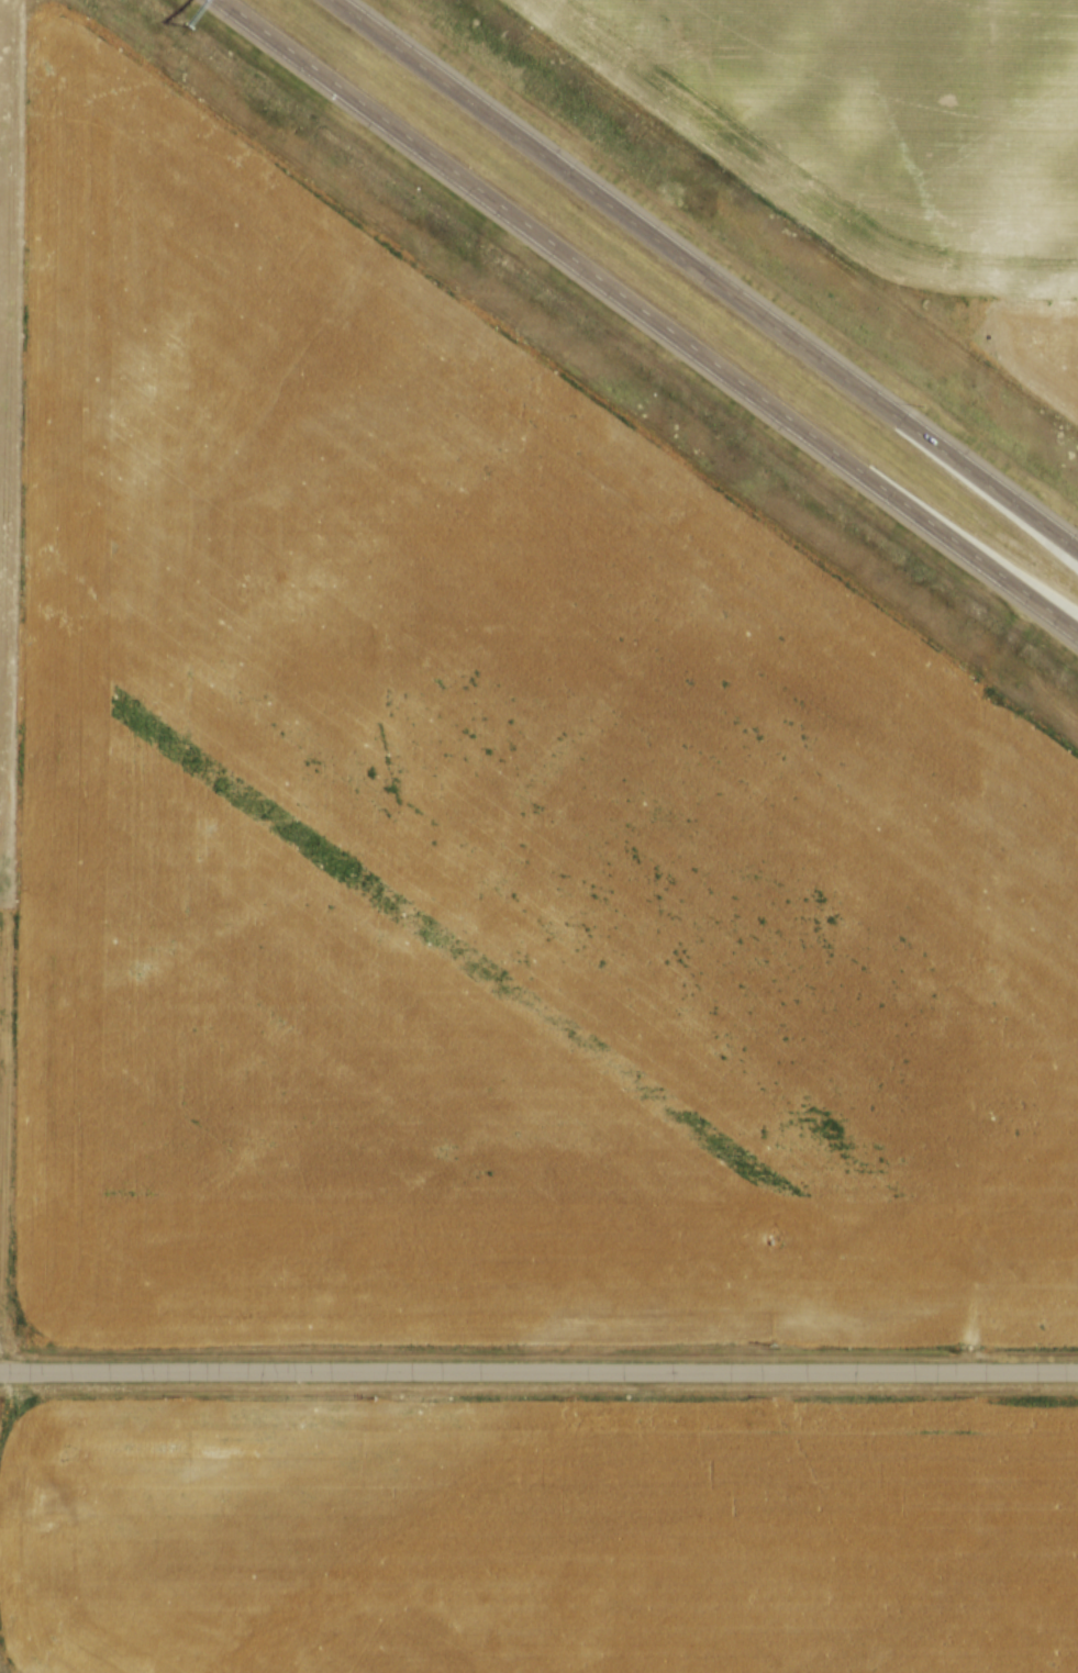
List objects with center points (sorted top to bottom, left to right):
crop: (880, 146)
road: (708, 272)
road: (649, 315)
crop: (473, 840)
road: (538, 1371)
crop: (541, 1536)

